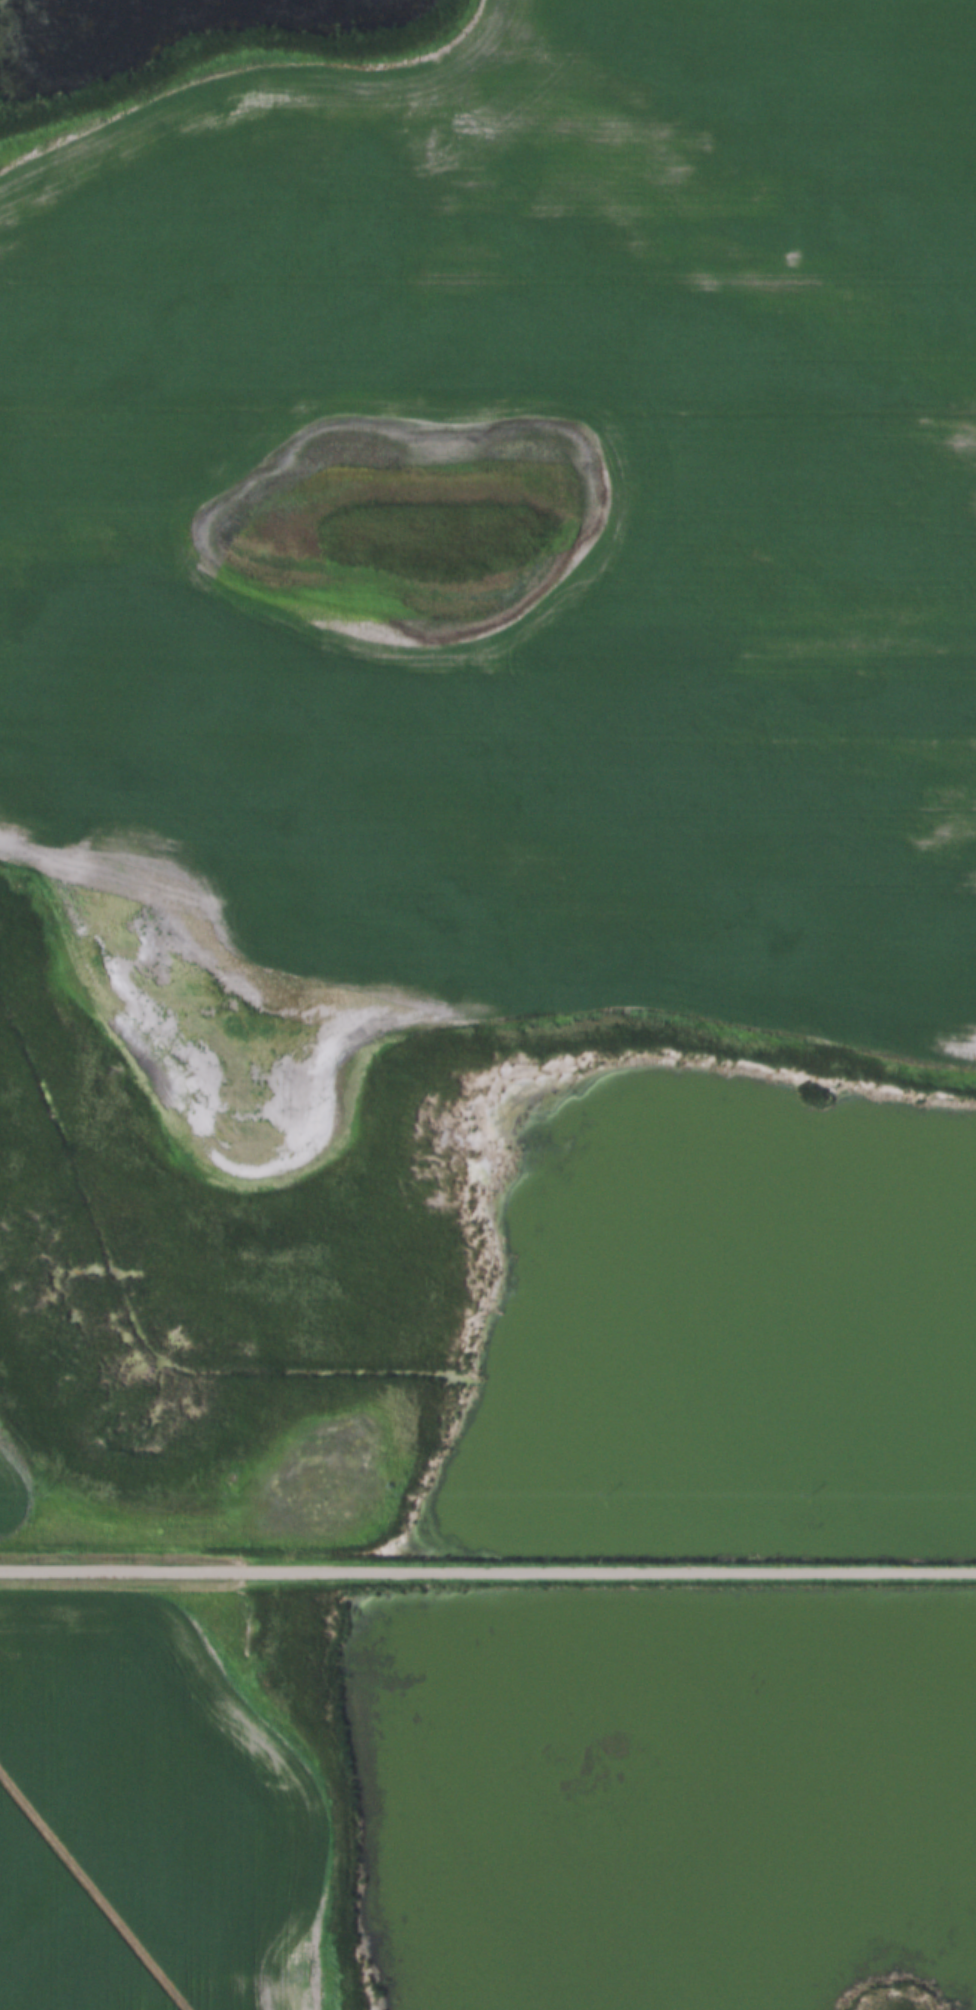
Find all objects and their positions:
road: (487, 1570)

